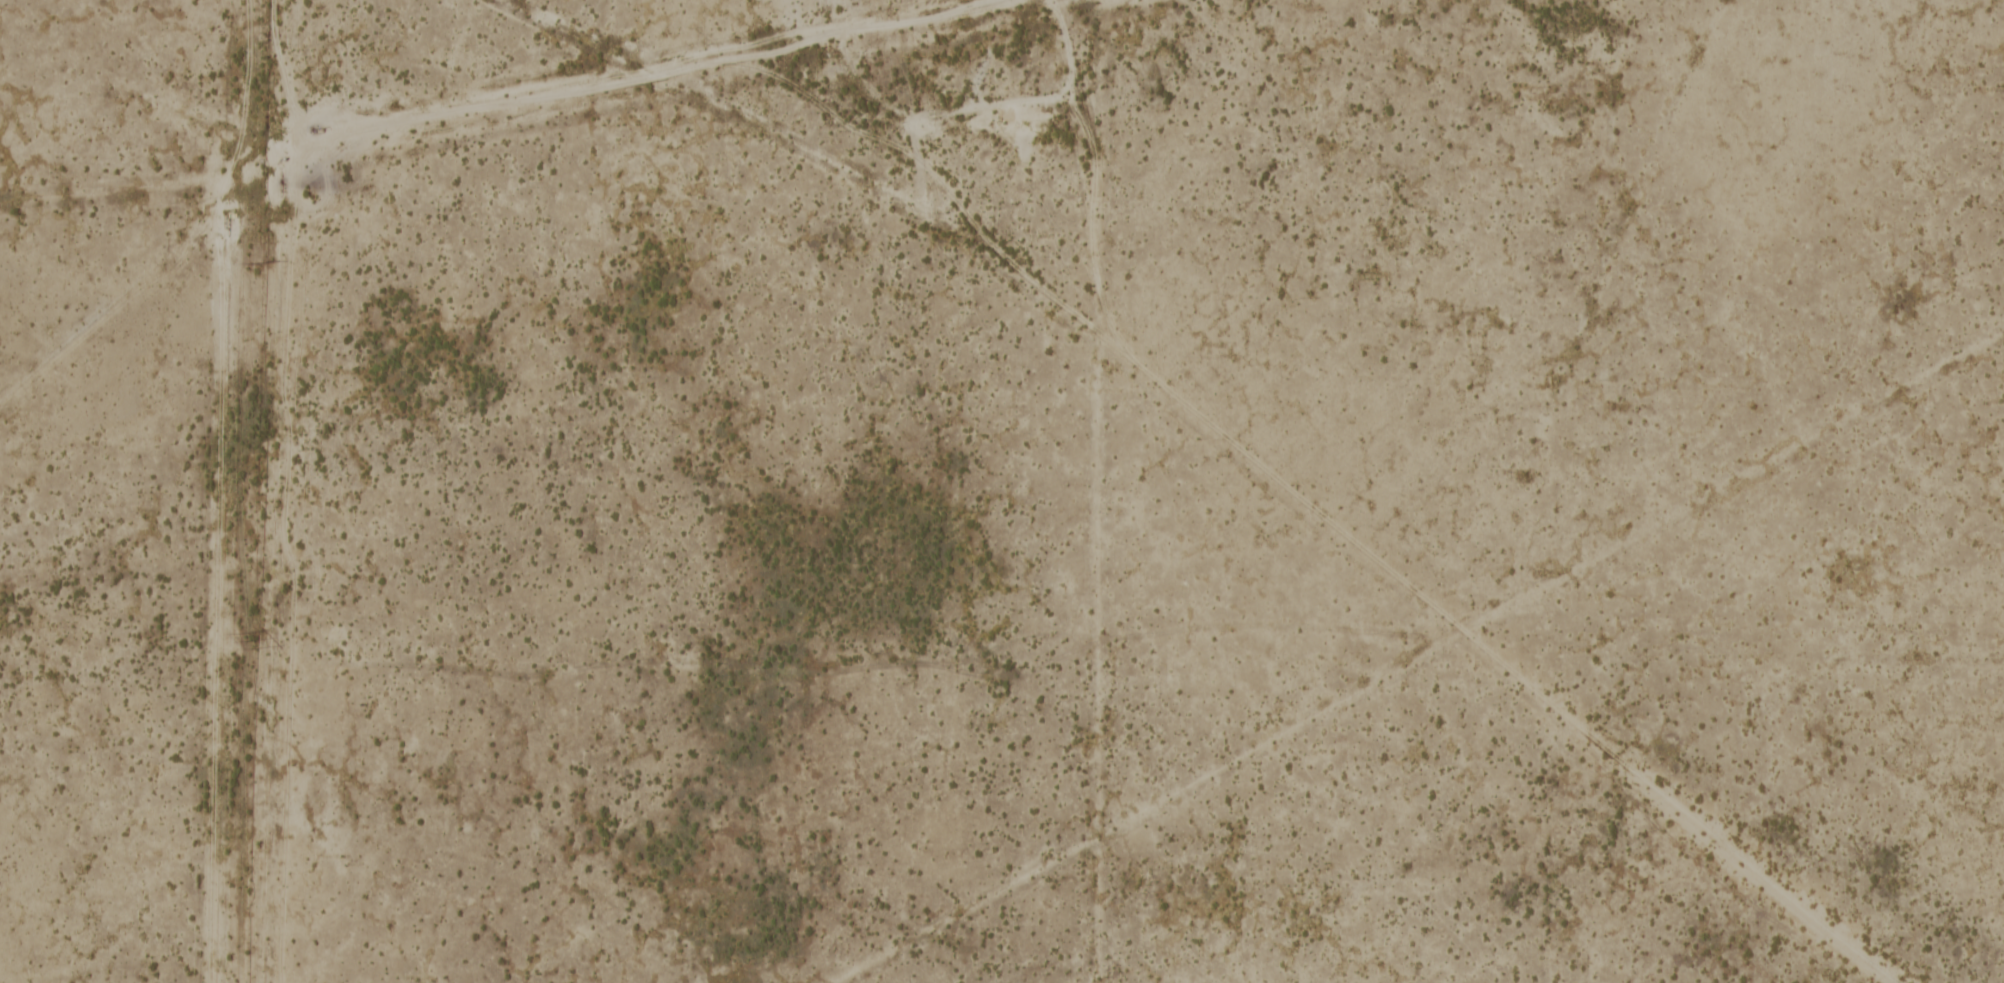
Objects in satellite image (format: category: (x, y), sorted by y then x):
road: (1061, 49)
road: (691, 61)
road: (1084, 138)
power tower: (250, 265)
road: (1386, 566)
power tower: (243, 643)

